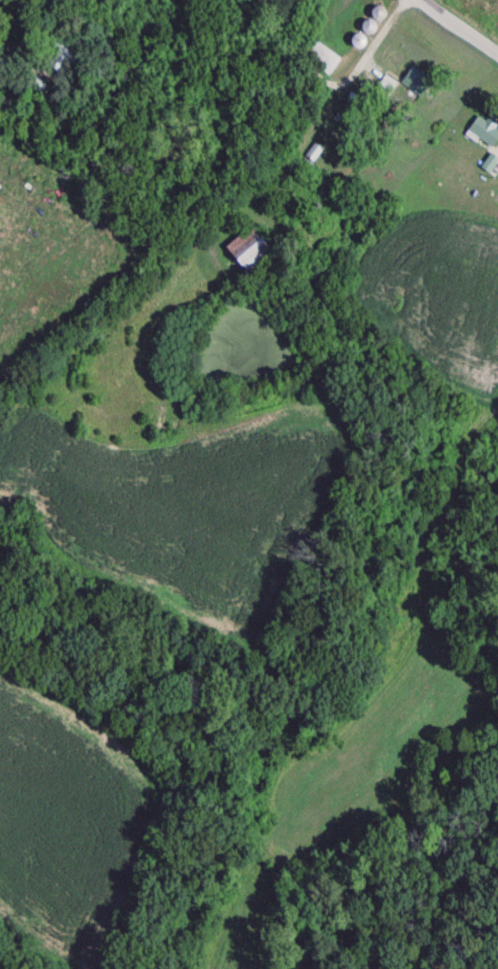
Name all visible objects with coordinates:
road: (86, 37)
road: (447, 42)
building: (322, 57)
building: (418, 82)
building: (5, 104)
building: (484, 134)
building: (255, 250)

